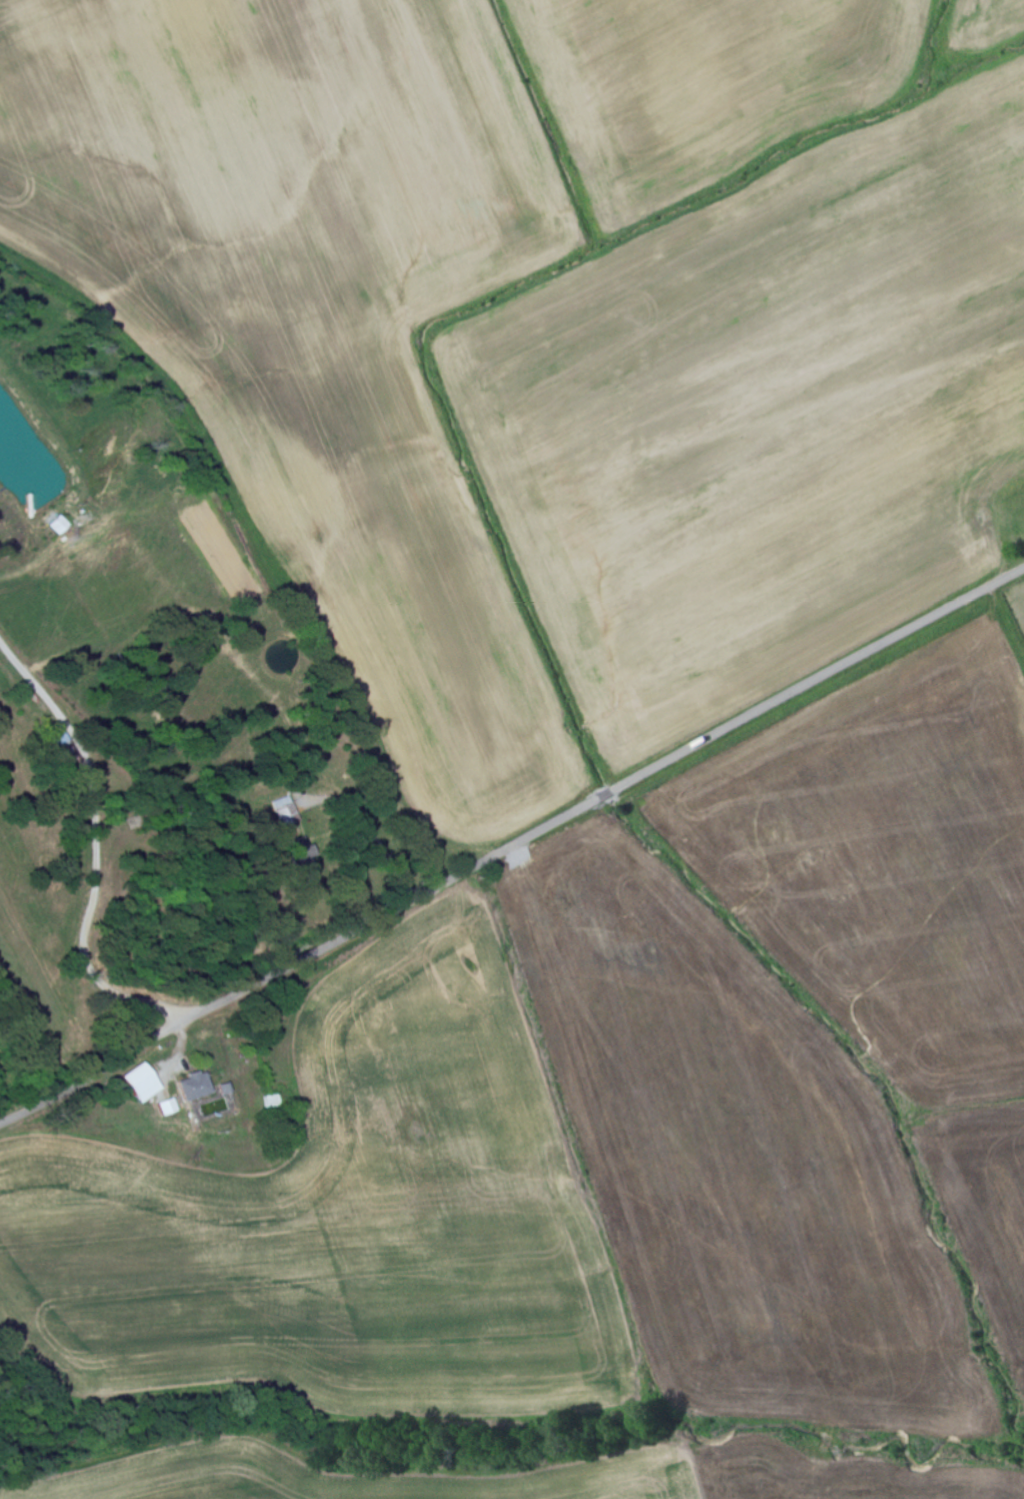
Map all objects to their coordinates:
building: (59, 525)
building: (285, 811)
road: (373, 828)
road: (512, 847)
road: (95, 850)
building: (301, 860)
building: (137, 1082)
building: (192, 1085)
building: (165, 1106)

